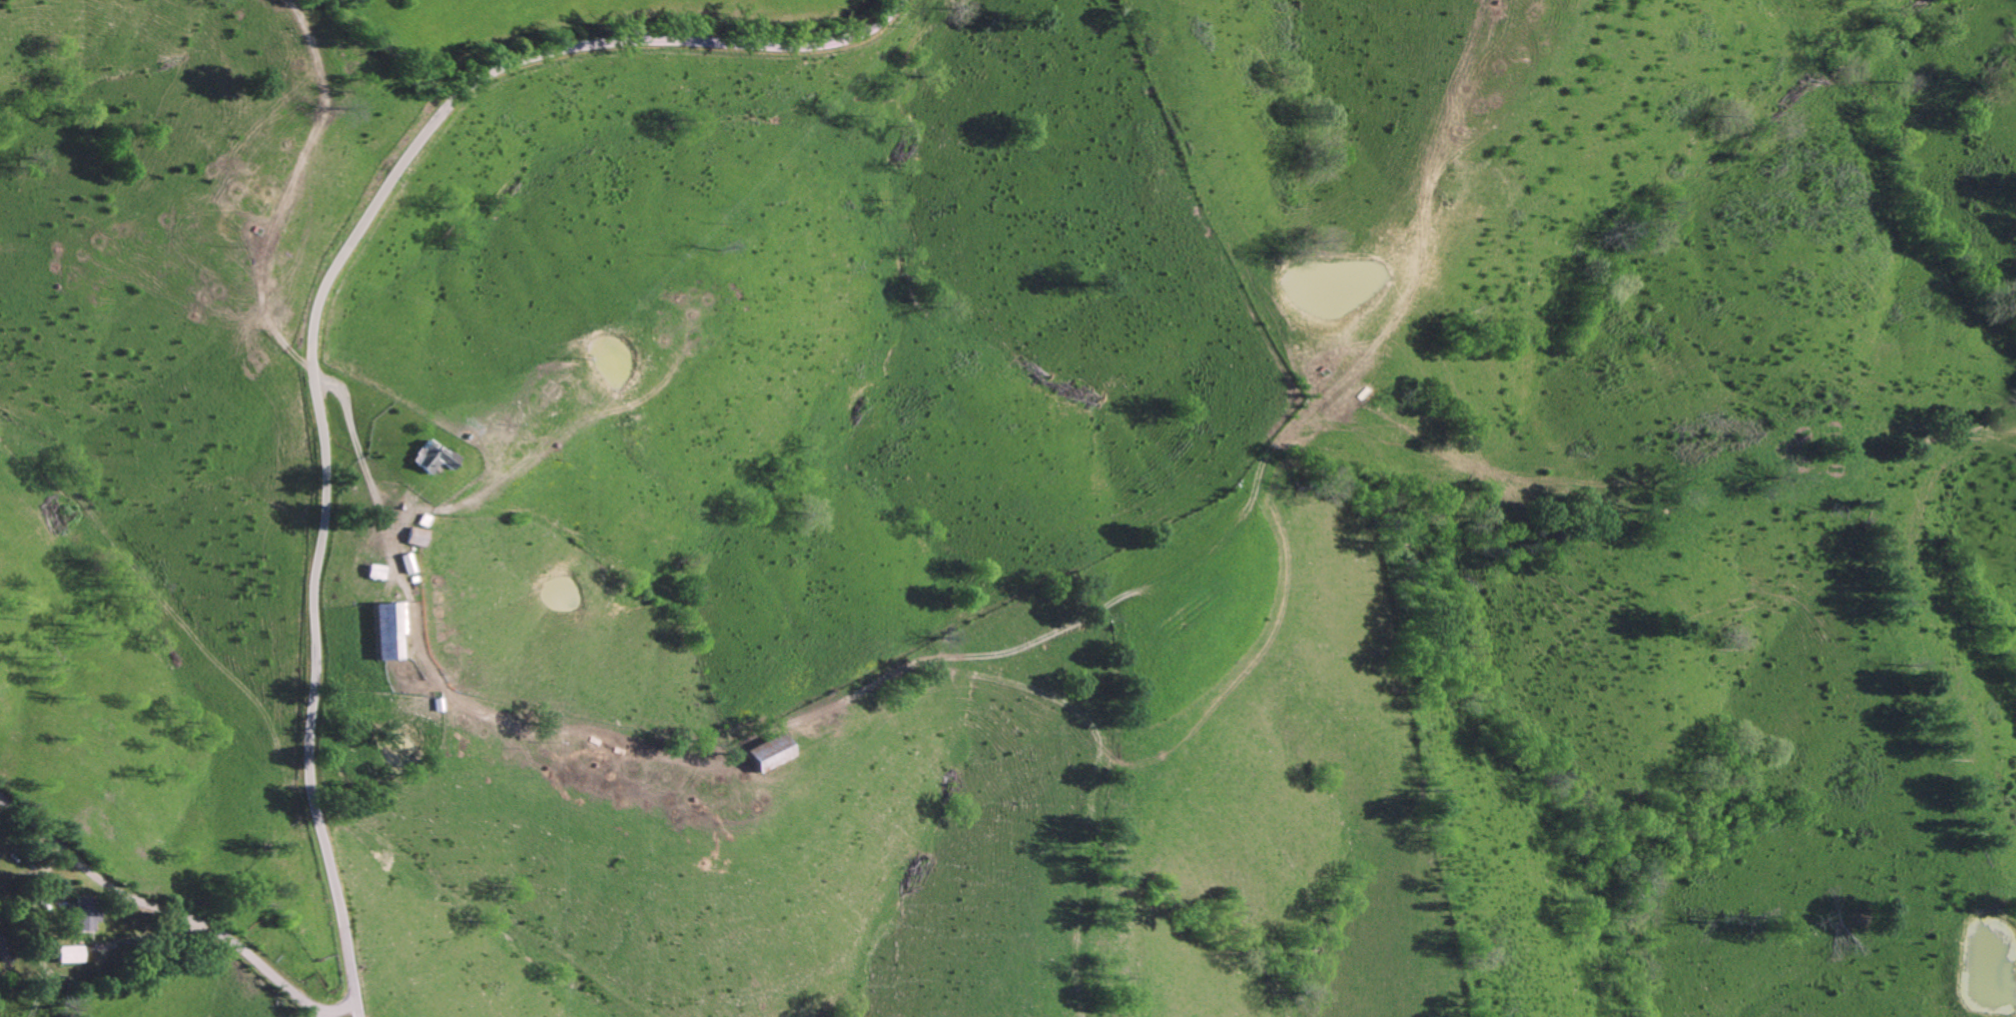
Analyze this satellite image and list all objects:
road: (320, 305)
building: (414, 537)
building: (389, 630)
road: (428, 669)
building: (769, 753)
road: (158, 910)
building: (82, 915)
building: (66, 955)

